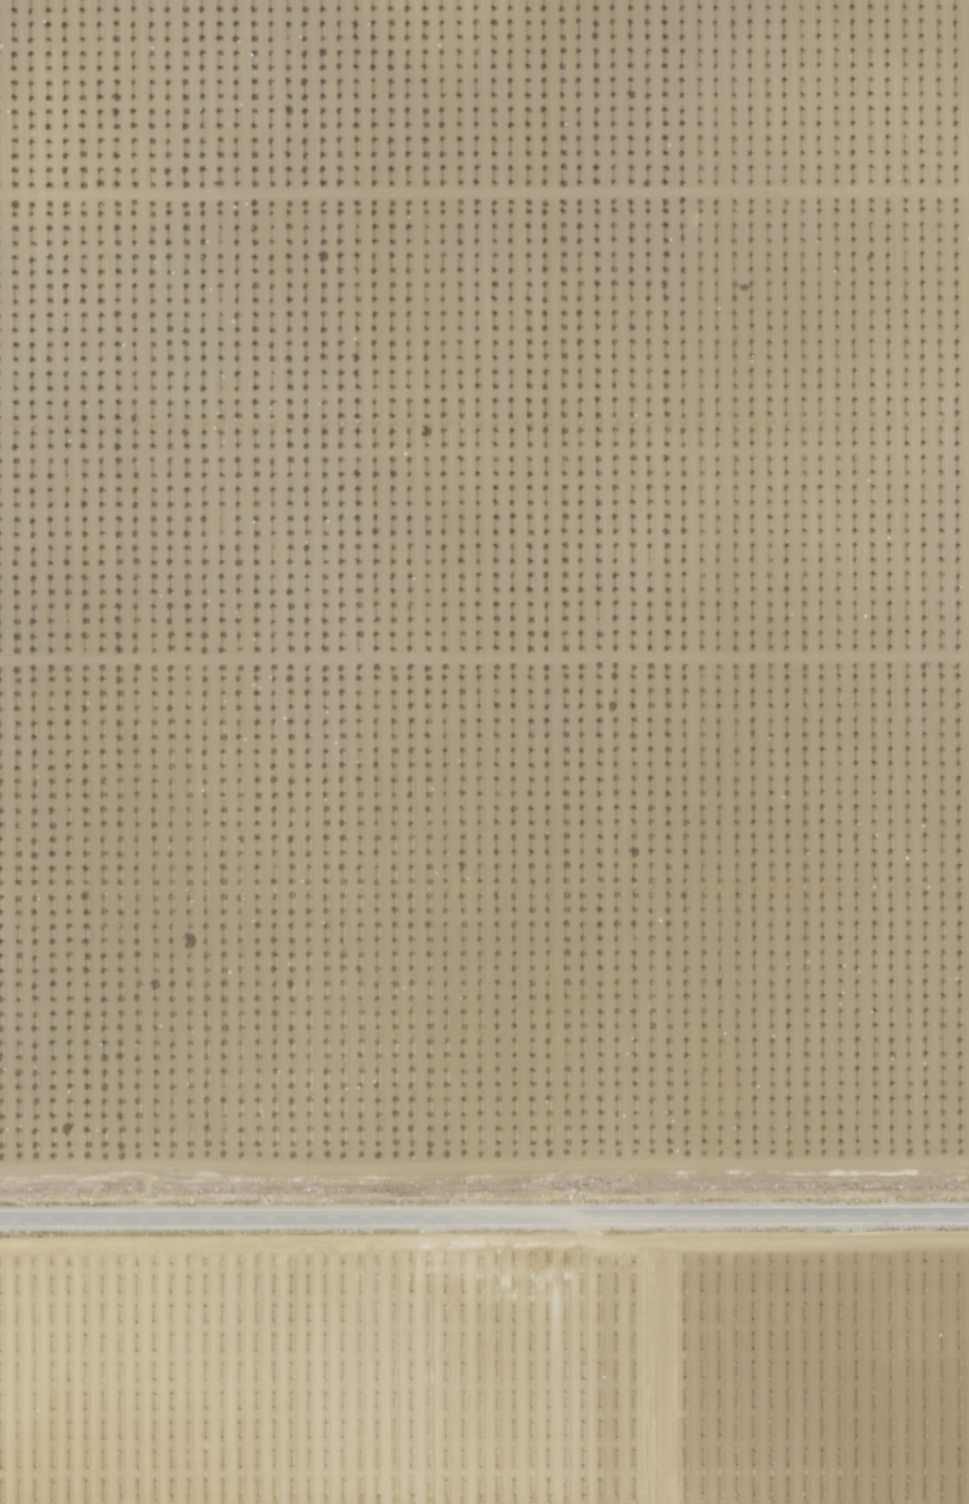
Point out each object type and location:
road: (484, 1218)

